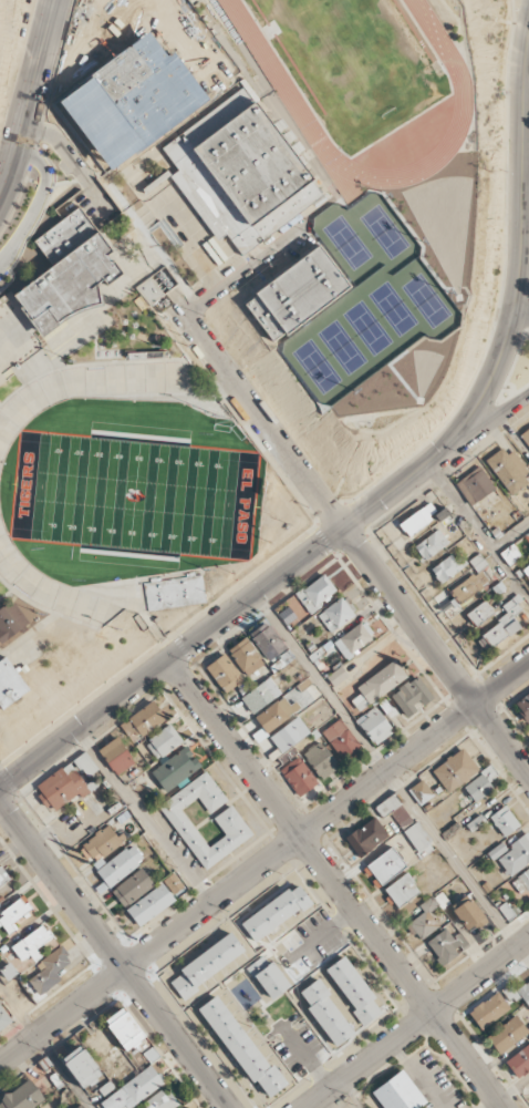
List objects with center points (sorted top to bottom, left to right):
park: (159, 4)
park: (129, 13)
park: (199, 50)
park: (173, 70)
park: (148, 89)
road: (28, 92)
track: (291, 98)
park: (123, 107)
road: (527, 109)
park: (97, 127)
building: (240, 174)
road: (33, 202)
building: (69, 274)
building: (164, 279)
building: (149, 290)
building: (297, 294)
road: (522, 314)
road: (515, 316)
building: (87, 390)
road: (260, 418)
road: (481, 427)
building: (525, 438)
building: (509, 470)
building: (475, 485)
stadium: (129, 491)
park: (134, 495)
building: (417, 519)
road: (478, 533)
road: (509, 534)
building: (431, 545)
building: (509, 554)
building: (478, 562)
building: (446, 568)
building: (527, 571)
building: (469, 585)
building: (51, 586)
building: (175, 592)
building: (315, 593)
building: (290, 609)
building: (479, 613)
building: (336, 614)
road: (409, 616)
building: (8, 625)
building: (501, 625)
building: (354, 639)
building: (270, 643)
road: (170, 657)
building: (246, 657)
building: (225, 674)
building: (336, 676)
building: (380, 683)
building: (10, 685)
road: (502, 685)
building: (260, 696)
building: (411, 696)
building: (523, 707)
building: (276, 714)
building: (144, 721)
building: (374, 726)
building: (289, 735)
building: (341, 739)
road: (502, 739)
building: (164, 742)
building: (120, 760)
building: (321, 760)
building: (84, 766)
building: (176, 769)
building: (455, 770)
building: (298, 777)
road: (391, 779)
building: (480, 784)
building: (62, 788)
building: (421, 792)
building: (388, 804)
building: (401, 817)
road: (144, 818)
building: (504, 821)
building: (232, 827)
building: (366, 837)
building: (418, 839)
building: (100, 844)
building: (512, 854)
building: (120, 865)
building: (386, 865)
building: (3, 876)
building: (521, 882)
road: (237, 884)
road: (334, 884)
building: (132, 888)
building: (402, 890)
building: (149, 905)
building: (276, 912)
building: (467, 913)
building: (14, 915)
building: (424, 920)
road: (322, 935)
parking lot: (312, 940)
building: (31, 944)
building: (446, 946)
road: (114, 955)
building: (206, 965)
building: (49, 971)
building: (270, 978)
building: (354, 991)
building: (509, 993)
building: (525, 993)
building: (488, 1010)
building: (326, 1013)
building: (3, 1019)
road: (417, 1023)
building: (124, 1029)
building: (507, 1035)
parking lot: (297, 1045)
building: (240, 1046)
road: (43, 1049)
building: (519, 1061)
road: (310, 1063)
building: (81, 1067)
parking lot: (432, 1081)
building: (133, 1090)
road: (514, 1091)
building: (398, 1092)
building: (22, 1097)
building: (160, 1101)
building: (80, 1107)

